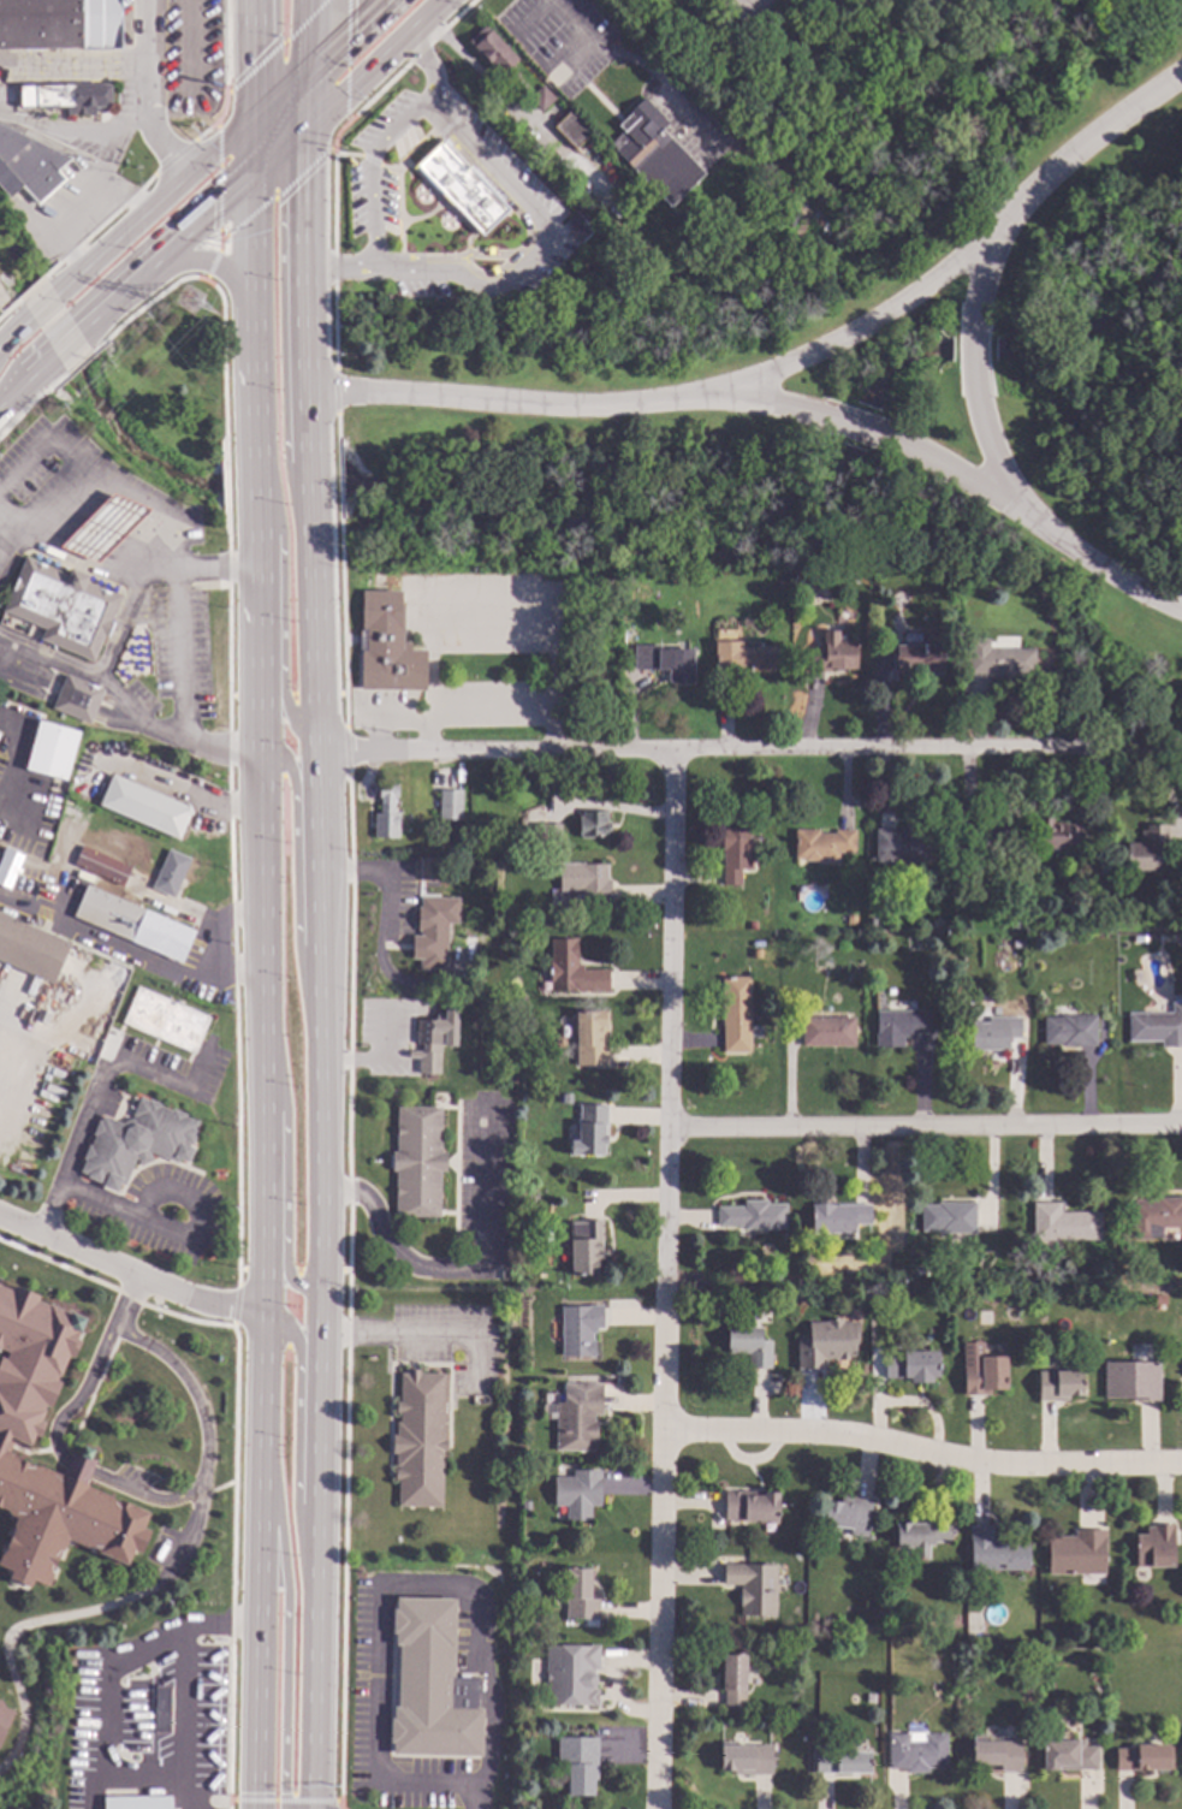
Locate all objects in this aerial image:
road: (752, 4)
road: (571, 22)
building: (61, 25)
road: (307, 31)
road: (341, 31)
building: (493, 49)
road: (251, 55)
traffic signals: (307, 64)
road: (375, 65)
road: (75, 67)
road: (651, 69)
road: (427, 70)
road: (280, 87)
road: (150, 91)
road: (305, 96)
building: (65, 97)
building: (541, 99)
traffic signals: (256, 112)
traffic signals: (305, 130)
building: (572, 130)
building: (733, 132)
road: (75, 135)
road: (1095, 141)
road: (254, 144)
road: (278, 153)
building: (654, 153)
building: (28, 165)
road: (369, 176)
traffic signals: (253, 178)
building: (462, 188)
building: (546, 192)
road: (154, 201)
road: (87, 206)
building: (791, 220)
road: (547, 244)
road: (166, 254)
road: (206, 263)
road: (339, 271)
road: (303, 286)
power tower: (190, 303)
road: (42, 306)
road: (253, 310)
road: (873, 324)
road: (14, 330)
road: (66, 343)
building: (1003, 349)
road: (973, 360)
road: (26, 380)
park: (842, 396)
road: (574, 409)
road: (857, 428)
road: (259, 453)
road: (70, 459)
road: (944, 470)
road: (257, 486)
road: (308, 486)
road: (272, 496)
building: (103, 527)
road: (10, 540)
road: (1094, 567)
road: (119, 574)
building: (810, 579)
building: (778, 585)
road: (509, 595)
building: (61, 607)
gas station: (61, 607)
road: (491, 635)
road: (313, 641)
road: (284, 645)
building: (386, 646)
building: (832, 657)
building: (743, 658)
building: (915, 658)
building: (998, 660)
building: (665, 662)
road: (101, 676)
building: (77, 699)
road: (184, 699)
road: (491, 713)
road: (141, 716)
road: (406, 719)
road: (382, 736)
road: (430, 736)
building: (52, 751)
road: (750, 752)
road: (17, 760)
building: (153, 765)
building: (147, 781)
building: (450, 805)
building: (143, 807)
building: (196, 808)
building: (386, 812)
building: (592, 824)
building: (546, 831)
building: (985, 834)
building: (1058, 835)
building: (458, 843)
building: (507, 843)
building: (822, 844)
building: (901, 846)
building: (1144, 849)
building: (735, 853)
building: (41, 866)
building: (12, 868)
building: (109, 871)
building: (171, 872)
building: (430, 872)
building: (586, 883)
road: (295, 894)
road: (8, 904)
building: (1091, 914)
road: (265, 918)
building: (1014, 921)
building: (132, 923)
building: (872, 923)
building: (752, 925)
building: (434, 930)
road: (380, 936)
building: (1168, 937)
building: (1017, 943)
building: (468, 947)
building: (843, 947)
building: (29, 954)
building: (764, 956)
road: (161, 966)
building: (572, 969)
building: (736, 1014)
building: (165, 1020)
road: (321, 1021)
building: (898, 1026)
building: (1157, 1026)
building: (1070, 1031)
building: (827, 1032)
building: (994, 1033)
building: (589, 1037)
building: (559, 1040)
building: (427, 1045)
road: (96, 1089)
building: (565, 1098)
road: (925, 1125)
building: (589, 1131)
building: (137, 1141)
building: (417, 1161)
road: (284, 1181)
road: (112, 1208)
building: (753, 1215)
building: (949, 1217)
building: (1154, 1217)
building: (837, 1220)
building: (1063, 1223)
building: (586, 1248)
road: (465, 1268)
road: (126, 1271)
building: (917, 1271)
building: (848, 1274)
building: (774, 1277)
road: (665, 1281)
building: (1032, 1293)
building: (1158, 1299)
building: (578, 1329)
road: (393, 1333)
building: (826, 1344)
building: (748, 1345)
building: (911, 1365)
building: (985, 1376)
building: (1131, 1380)
building: (1058, 1384)
road: (85, 1390)
building: (577, 1417)
road: (296, 1435)
building: (6, 1440)
building: (418, 1440)
road: (922, 1454)
road: (77, 1469)
building: (577, 1494)
road: (142, 1499)
building: (749, 1506)
building: (525, 1507)
building: (848, 1514)
building: (920, 1536)
building: (1154, 1547)
road: (314, 1548)
building: (994, 1552)
building: (1076, 1553)
road: (254, 1558)
road: (177, 1562)
road: (380, 1588)
building: (753, 1588)
building: (580, 1595)
building: (436, 1620)
road: (285, 1626)
building: (570, 1674)
road: (186, 1680)
building: (732, 1682)
road: (101, 1698)
building: (161, 1709)
building: (4, 1718)
building: (916, 1752)
building: (996, 1754)
building: (1067, 1755)
building: (1140, 1757)
building: (744, 1758)
building: (841, 1762)
building: (578, 1763)
road: (141, 1778)
road: (481, 1797)
building: (137, 1802)

